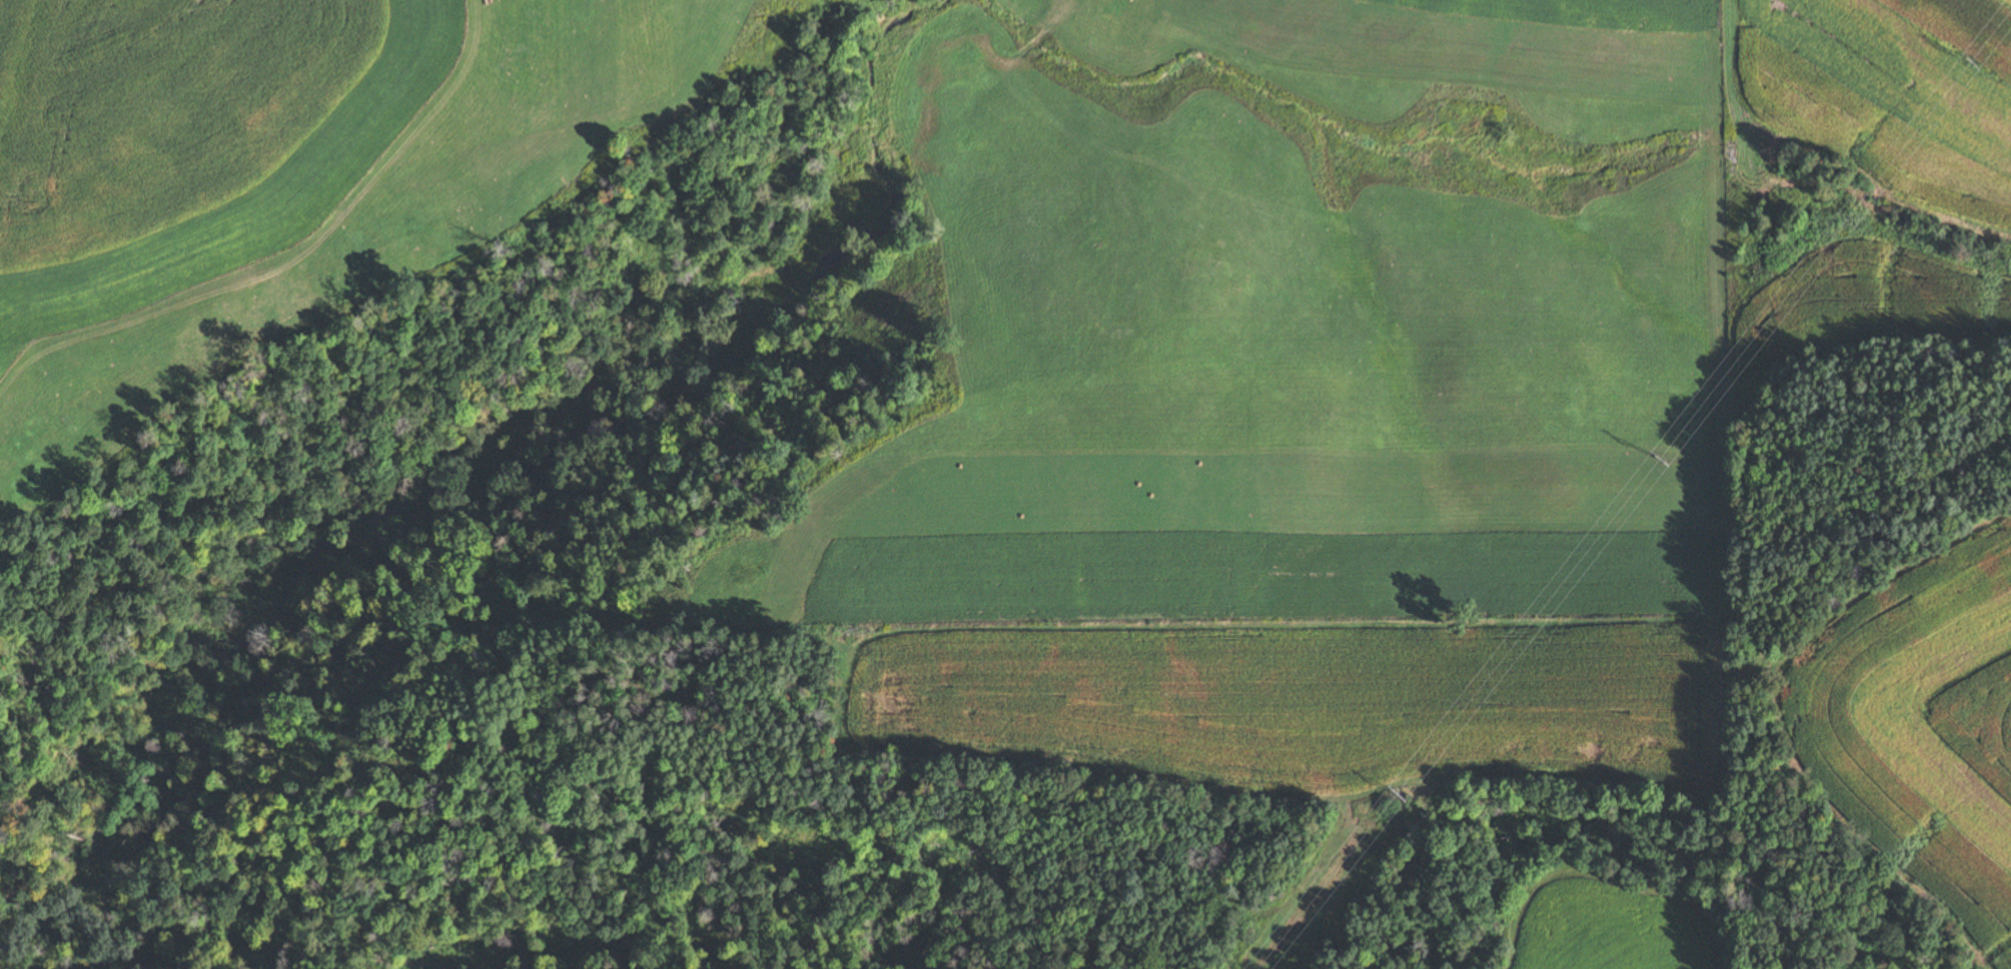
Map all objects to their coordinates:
crop: (1124, 21)
crop: (1520, 45)
crop: (598, 60)
power tower: (1972, 60)
crop: (1887, 88)
crop: (209, 191)
crop: (1894, 304)
power tower: (1656, 459)
crop: (1047, 540)
crop: (1929, 619)
crop: (1295, 702)
crop: (1918, 783)
power tower: (1397, 793)
crop: (1609, 927)

